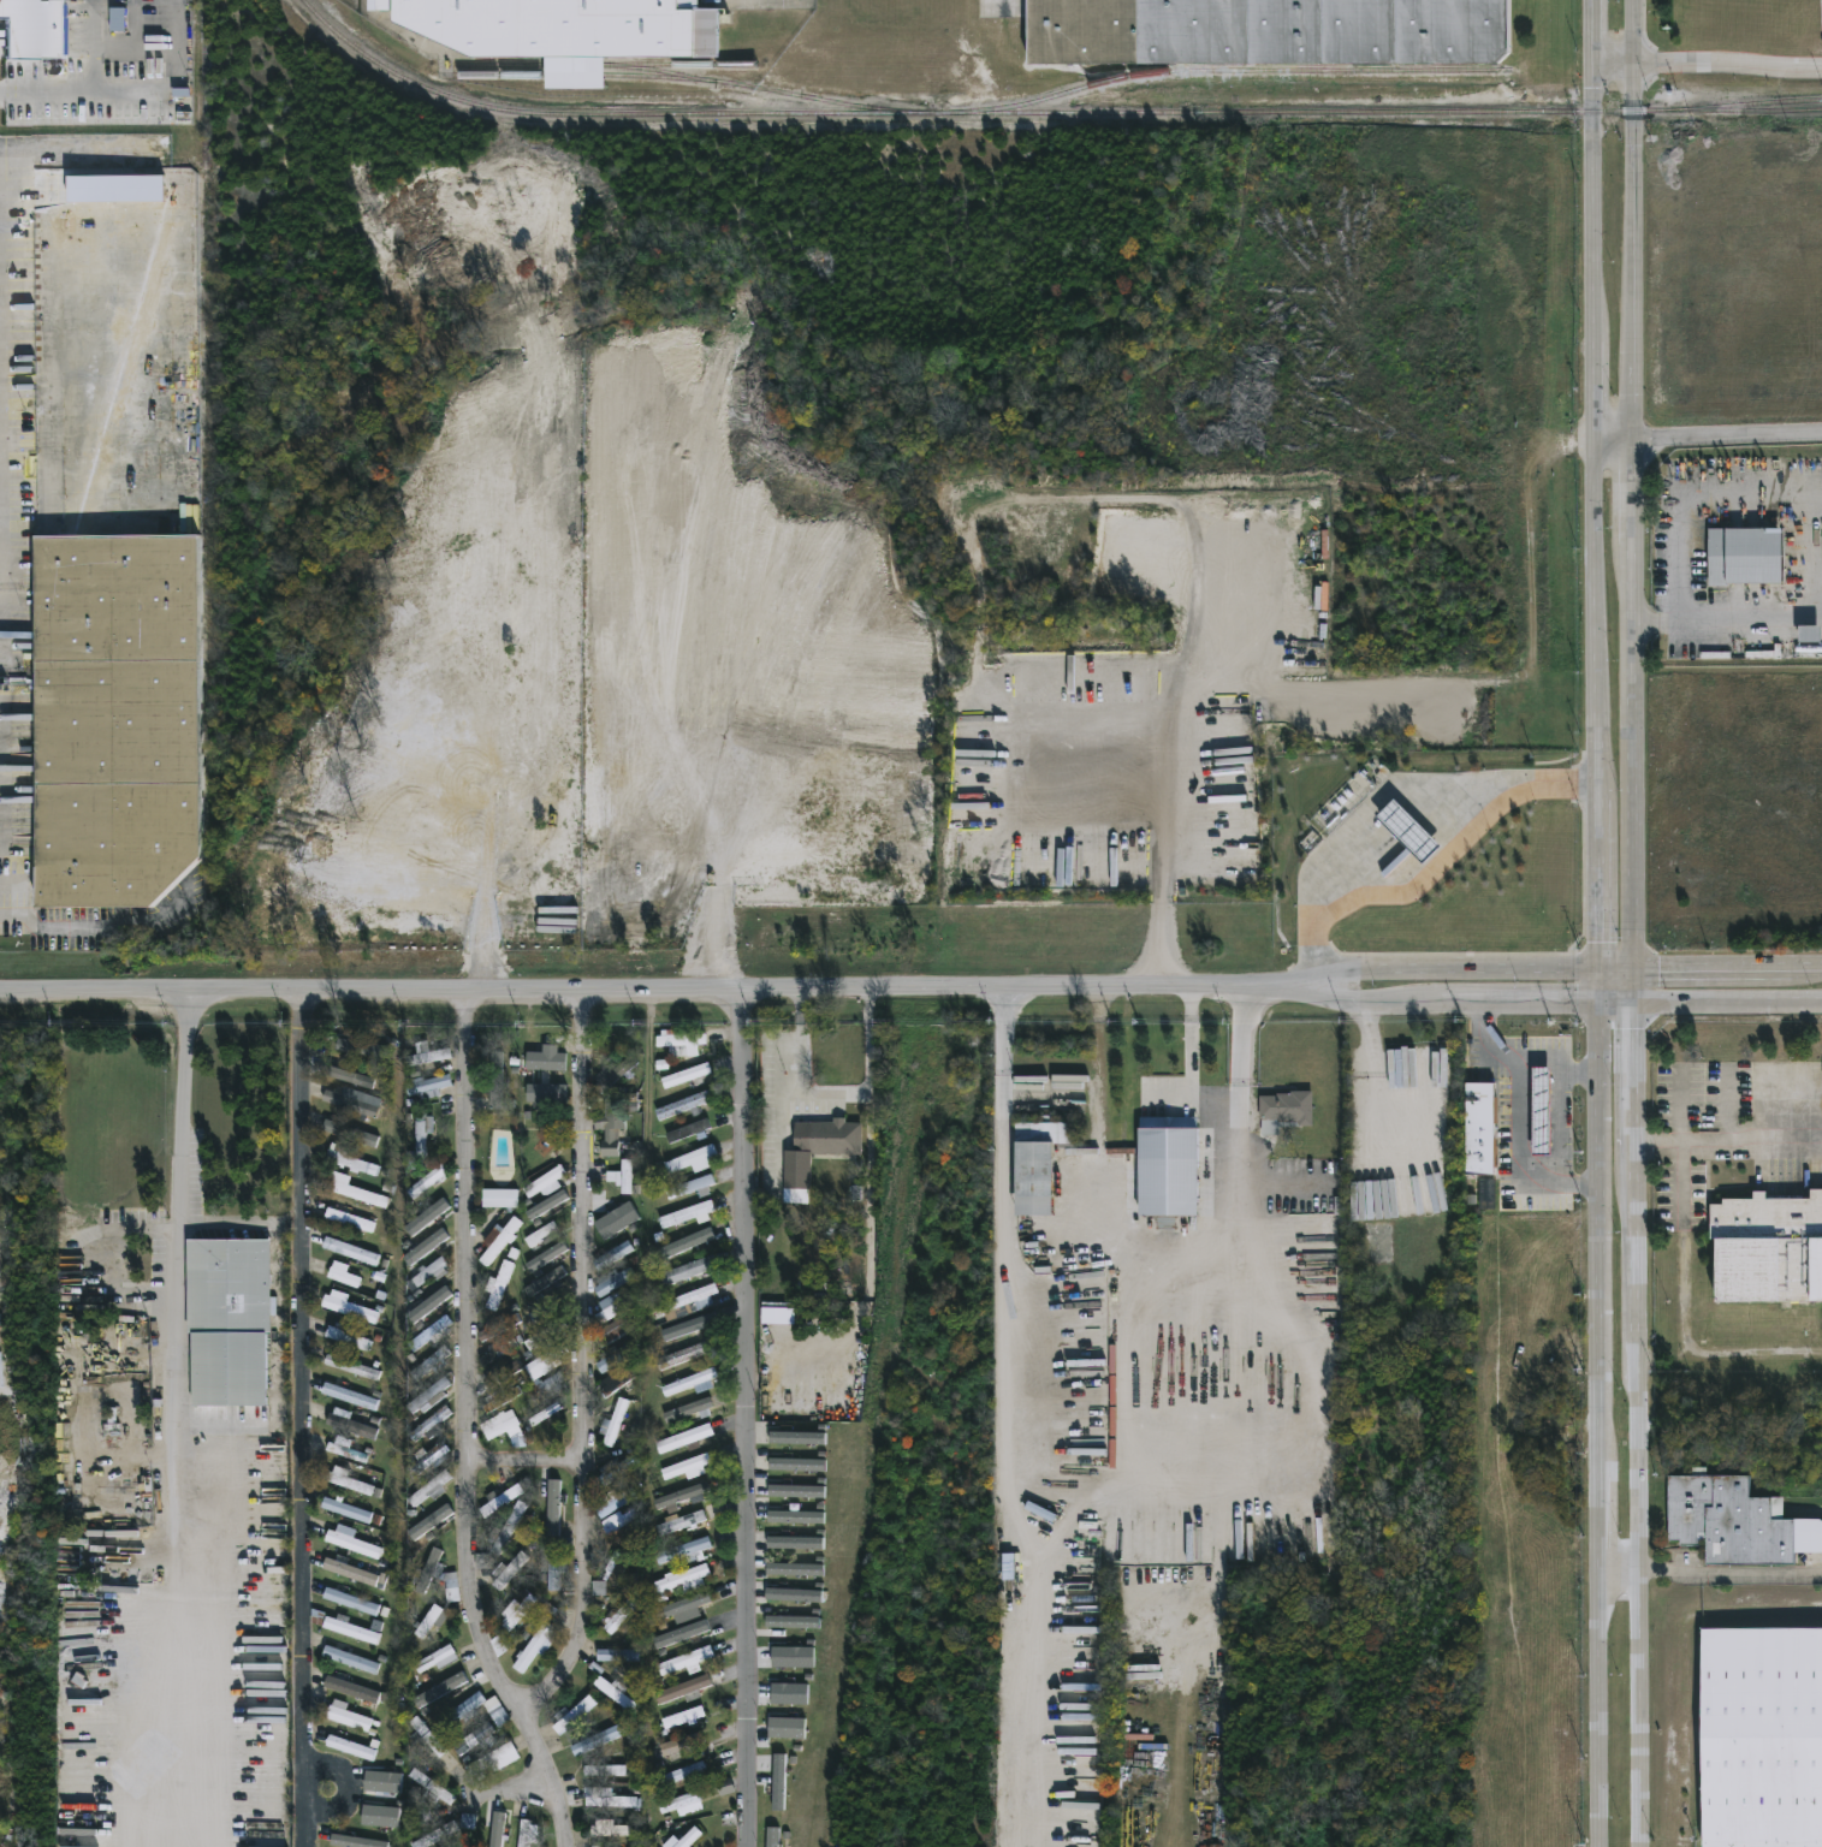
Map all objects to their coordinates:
building: (118, 18)
building: (559, 25)
building: (35, 28)
building: (1266, 30)
road: (1727, 63)
railway: (574, 64)
railway: (679, 64)
road: (1612, 64)
railway: (1230, 72)
railway: (673, 77)
road: (84, 83)
railway: (1755, 101)
railway: (1046, 112)
road: (1728, 435)
railway: (204, 436)
road: (1615, 439)
road: (1596, 483)
road: (1636, 483)
road: (1695, 492)
building: (113, 533)
building: (1747, 557)
road: (1749, 611)
road: (1656, 612)
building: (1810, 640)
road: (1385, 791)
building: (1408, 831)
road: (1161, 860)
road: (1435, 865)
road: (1535, 970)
road: (624, 987)
road: (1324, 991)
road: (1535, 1006)
building: (679, 1039)
building: (363, 1047)
road: (1188, 1049)
building: (423, 1056)
building: (546, 1058)
road: (1562, 1062)
building: (612, 1073)
building: (348, 1074)
building: (684, 1074)
building: (535, 1080)
building: (489, 1083)
building: (423, 1086)
road: (835, 1092)
building: (348, 1100)
building: (683, 1104)
building: (1383, 1104)
building: (1541, 1109)
gas station: (1541, 1109)
building: (1283, 1110)
road: (1520, 1117)
building: (613, 1120)
building: (1480, 1128)
building: (688, 1130)
building: (350, 1133)
building: (831, 1136)
building: (417, 1139)
road: (1239, 1142)
road: (1728, 1147)
building: (692, 1158)
building: (350, 1160)
building: (1033, 1162)
building: (1169, 1165)
building: (623, 1177)
building: (426, 1180)
building: (544, 1180)
building: (690, 1186)
building: (348, 1188)
building: (812, 1190)
building: (498, 1196)
building: (544, 1206)
building: (687, 1213)
building: (427, 1216)
building: (346, 1217)
building: (617, 1219)
road: (462, 1222)
building: (429, 1228)
road: (868, 1229)
building: (539, 1235)
building: (551, 1236)
road: (76, 1240)
building: (499, 1240)
building: (687, 1243)
building: (426, 1246)
building: (1768, 1247)
building: (350, 1248)
building: (613, 1254)
building: (546, 1257)
building: (686, 1269)
building: (426, 1272)
building: (343, 1273)
building: (545, 1281)
building: (612, 1281)
building: (498, 1283)
building: (690, 1297)
building: (431, 1300)
building: (350, 1307)
building: (545, 1307)
building: (612, 1307)
road: (1684, 1313)
building: (225, 1319)
building: (499, 1323)
building: (683, 1325)
building: (613, 1331)
building: (428, 1332)
building: (544, 1334)
building: (346, 1336)
building: (498, 1349)
building: (683, 1354)
building: (615, 1356)
building: (546, 1359)
road: (577, 1359)
building: (427, 1362)
building: (350, 1365)
building: (502, 1370)
building: (551, 1380)
building: (616, 1380)
building: (687, 1380)
building: (427, 1395)
building: (350, 1396)
building: (502, 1396)
building: (433, 1401)
road: (1602, 1407)
road: (1637, 1407)
building: (688, 1409)
building: (544, 1412)
road: (298, 1417)
road: (743, 1417)
road: (1003, 1421)
building: (349, 1423)
building: (428, 1423)
building: (612, 1423)
building: (504, 1427)
building: (683, 1437)
building: (796, 1437)
building: (344, 1450)
building: (428, 1457)
road: (520, 1459)
building: (796, 1463)
building: (687, 1467)
building: (615, 1468)
building: (346, 1480)
building: (429, 1487)
building: (796, 1490)
building: (683, 1495)
building: (499, 1499)
building: (615, 1501)
building: (550, 1503)
building: (340, 1505)
building: (795, 1516)
building: (618, 1520)
building: (1735, 1520)
building: (431, 1521)
building: (677, 1524)
building: (503, 1531)
building: (350, 1542)
building: (795, 1542)
building: (682, 1550)
building: (482, 1561)
building: (619, 1561)
building: (553, 1568)
building: (794, 1568)
road: (1729, 1568)
building: (429, 1569)
building: (506, 1570)
building: (352, 1572)
road: (1620, 1574)
building: (682, 1579)
building: (451, 1586)
road: (464, 1590)
building: (794, 1594)
building: (350, 1602)
road: (156, 1604)
building: (682, 1604)
road: (1175, 1607)
building: (516, 1610)
building: (435, 1615)
building: (616, 1616)
building: (791, 1621)
building: (344, 1626)
building: (536, 1638)
building: (677, 1638)
building: (499, 1644)
building: (616, 1655)
building: (793, 1656)
building: (348, 1658)
building: (438, 1658)
building: (684, 1659)
building: (682, 1687)
building: (354, 1689)
building: (440, 1691)
building: (616, 1693)
building: (789, 1693)
building: (497, 1711)
building: (459, 1712)
building: (570, 1714)
building: (348, 1717)
building: (683, 1717)
building: (787, 1727)
building: (1762, 1738)
building: (595, 1739)
building: (473, 1740)
building: (432, 1744)
building: (683, 1746)
building: (351, 1747)
building: (491, 1759)
building: (601, 1768)
building: (681, 1774)
road: (542, 1777)
building: (778, 1782)
building: (382, 1787)
building: (429, 1788)
road: (498, 1789)
building: (611, 1800)
building: (682, 1804)
building: (380, 1816)
building: (467, 1821)
building: (607, 1828)
building: (493, 1831)
building: (524, 1833)
building: (433, 1834)
building: (772, 1836)
building: (688, 1837)
building: (355, 1841)
building: (594, 1846)

